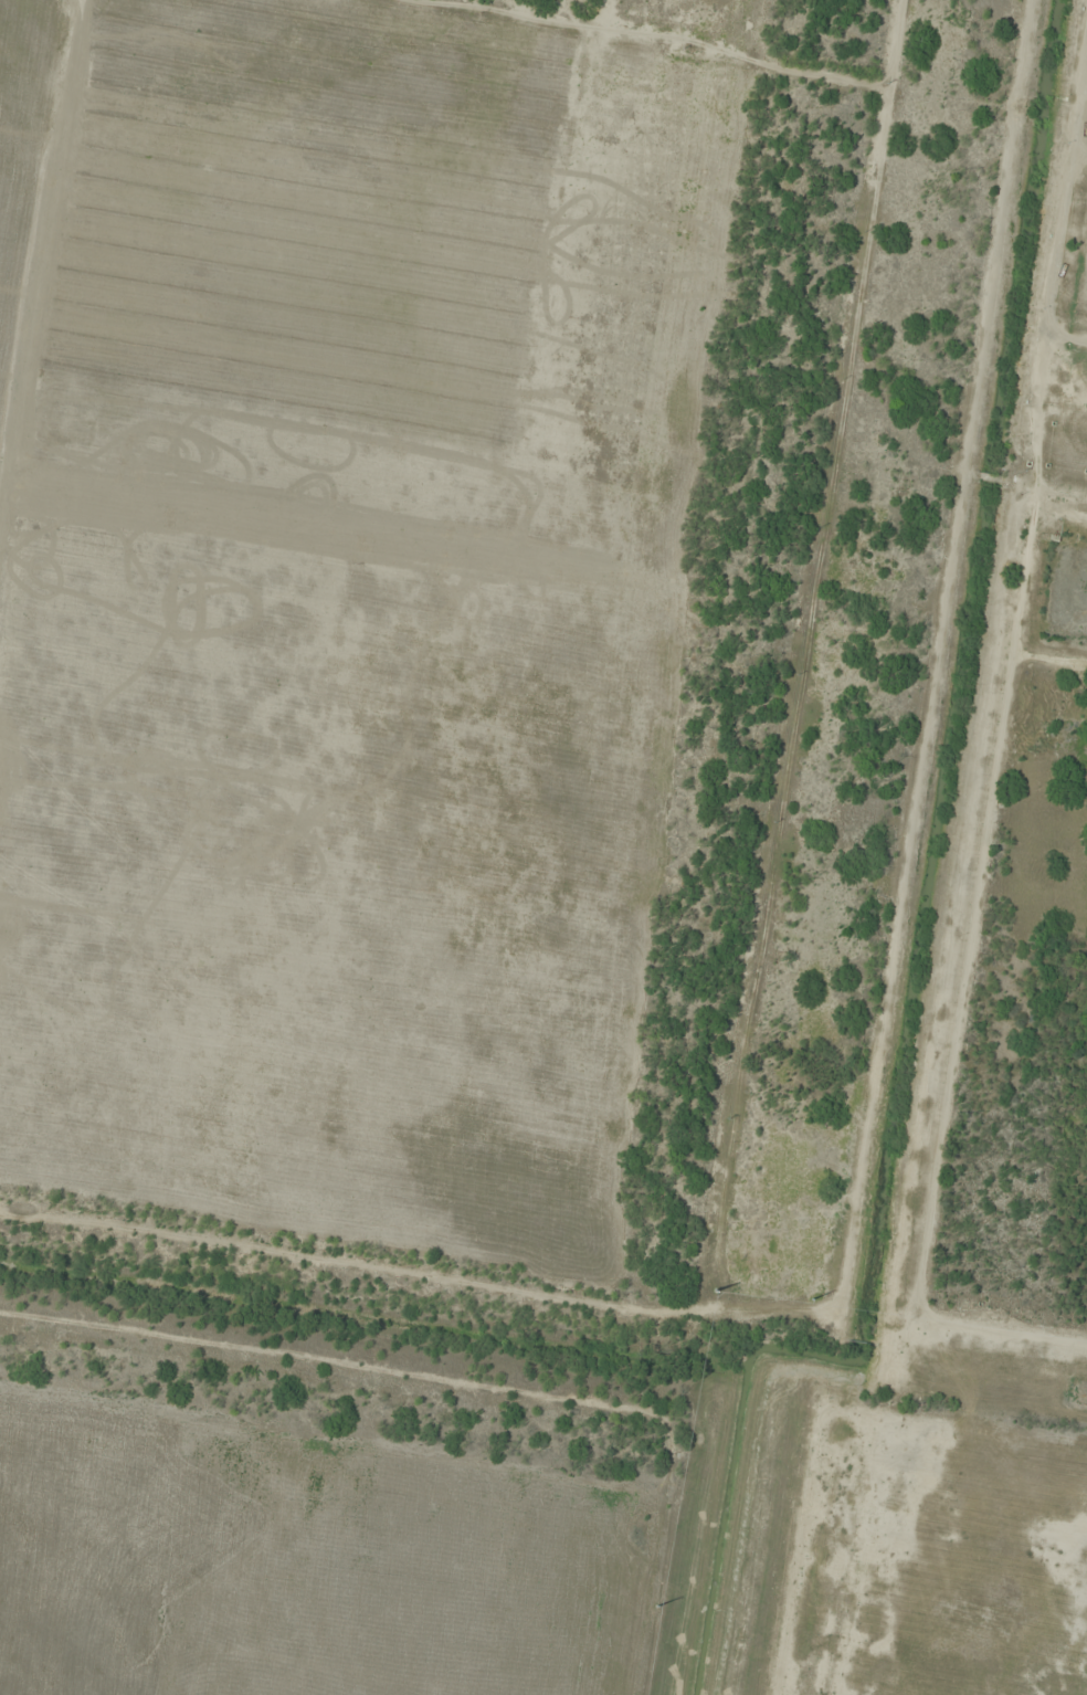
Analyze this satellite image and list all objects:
wastewater plant: (1063, 312)

